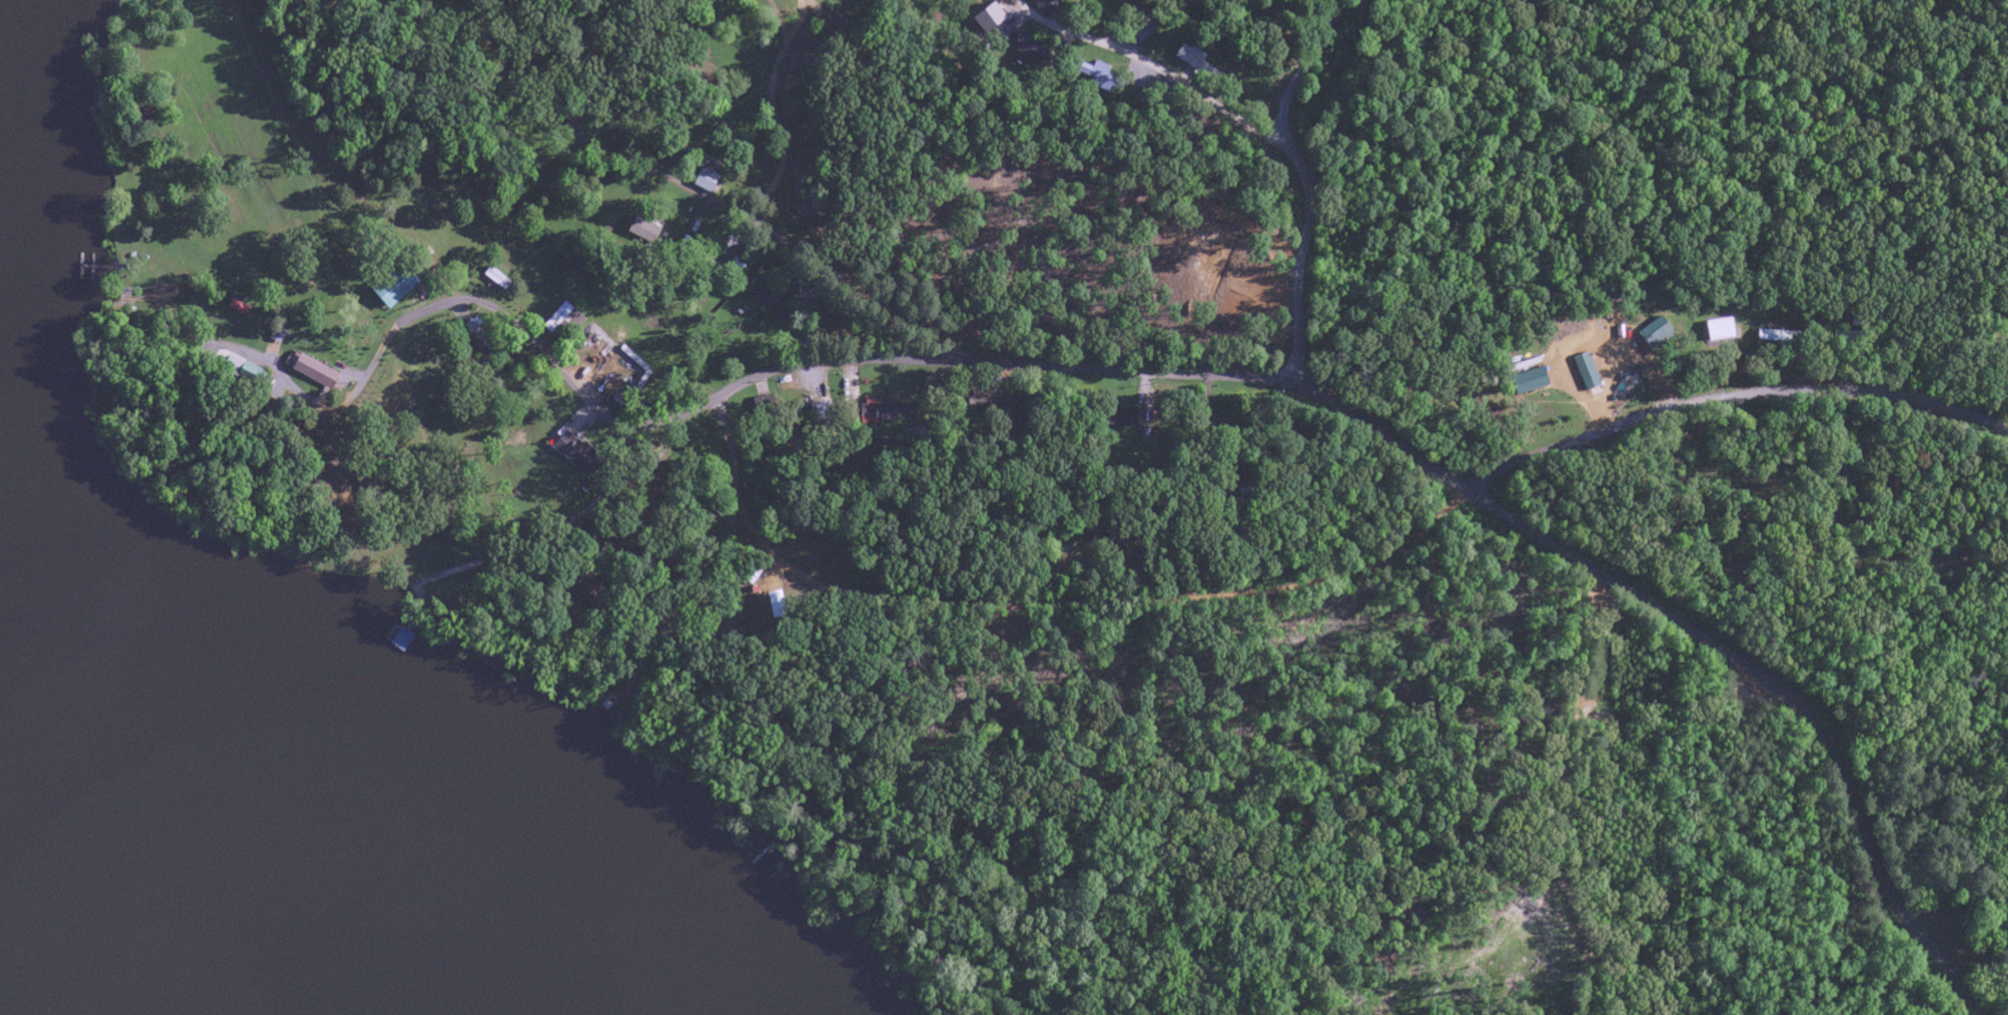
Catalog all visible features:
building: (992, 19)
building: (1032, 50)
road: (1161, 70)
building: (1100, 76)
road: (266, 100)
road: (771, 116)
road: (310, 161)
building: (709, 181)
road: (1304, 183)
road: (302, 205)
building: (646, 230)
road: (795, 249)
building: (398, 287)
building: (780, 296)
building: (1722, 330)
building: (1659, 335)
road: (378, 359)
building: (318, 372)
building: (1590, 374)
building: (1532, 382)
road: (1321, 396)
road: (1409, 401)
building: (875, 408)
building: (1127, 417)
building: (576, 455)
road: (1323, 577)
road: (673, 617)
road: (590, 731)

